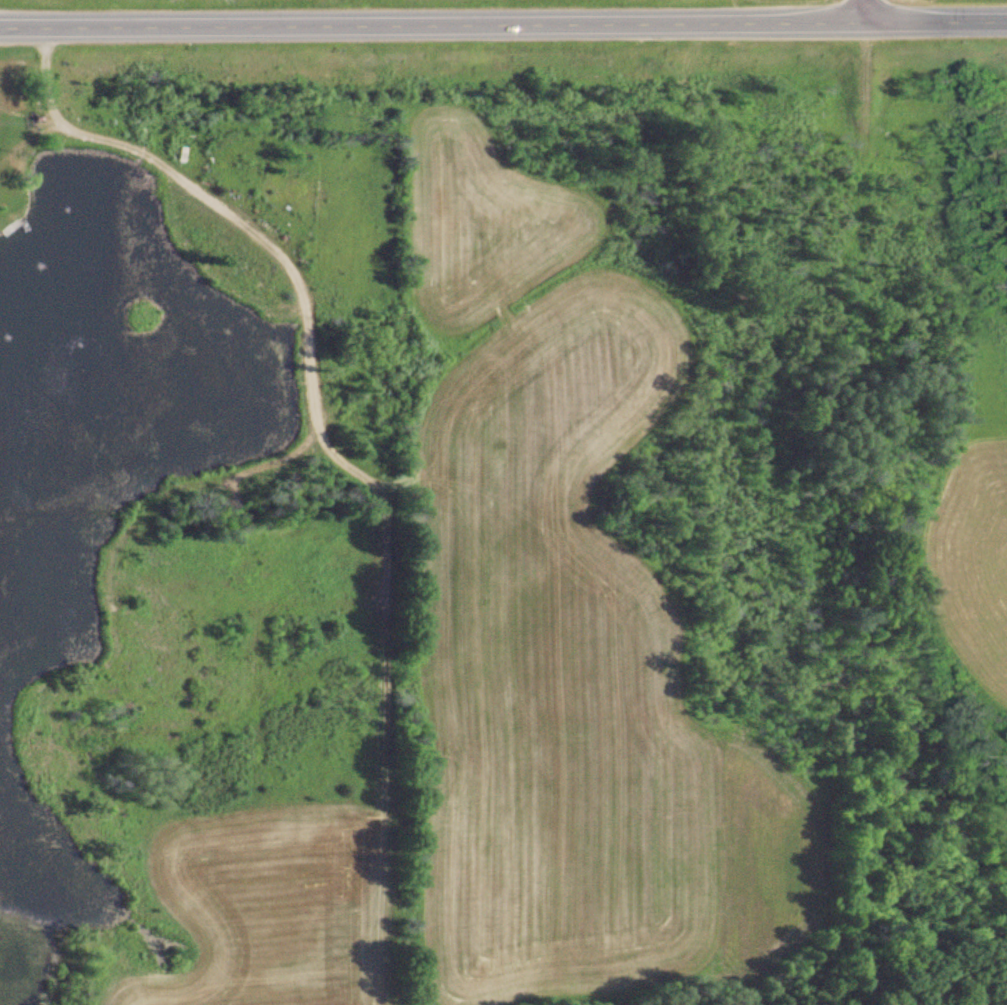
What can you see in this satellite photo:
road: (863, 12)
road: (503, 24)
crop: (972, 543)
crop: (545, 594)
crop: (269, 903)

